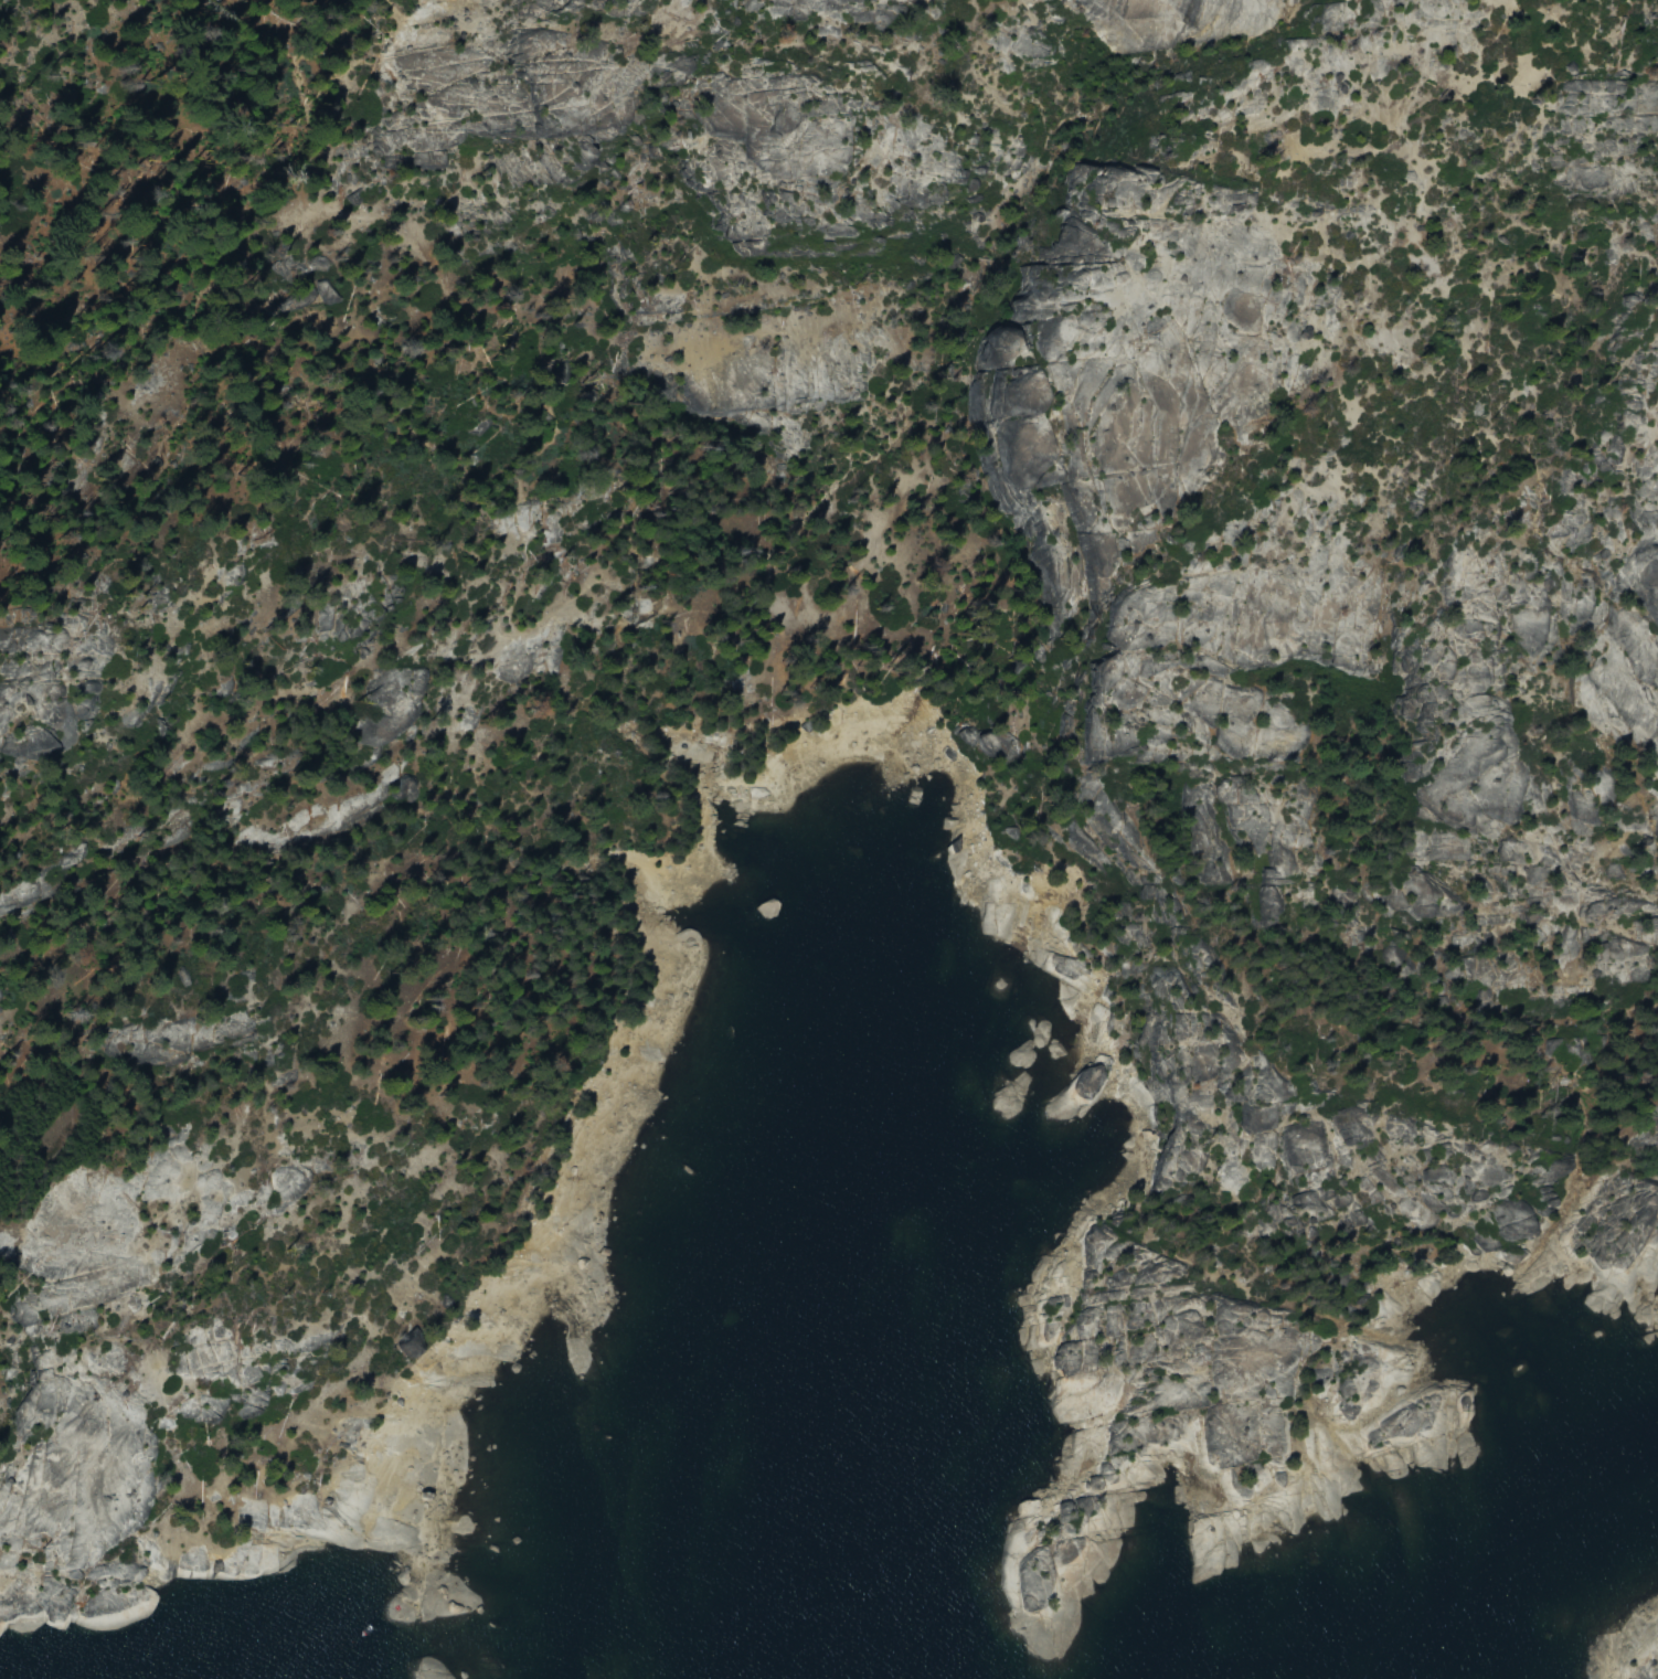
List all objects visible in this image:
road: (402, 50)

